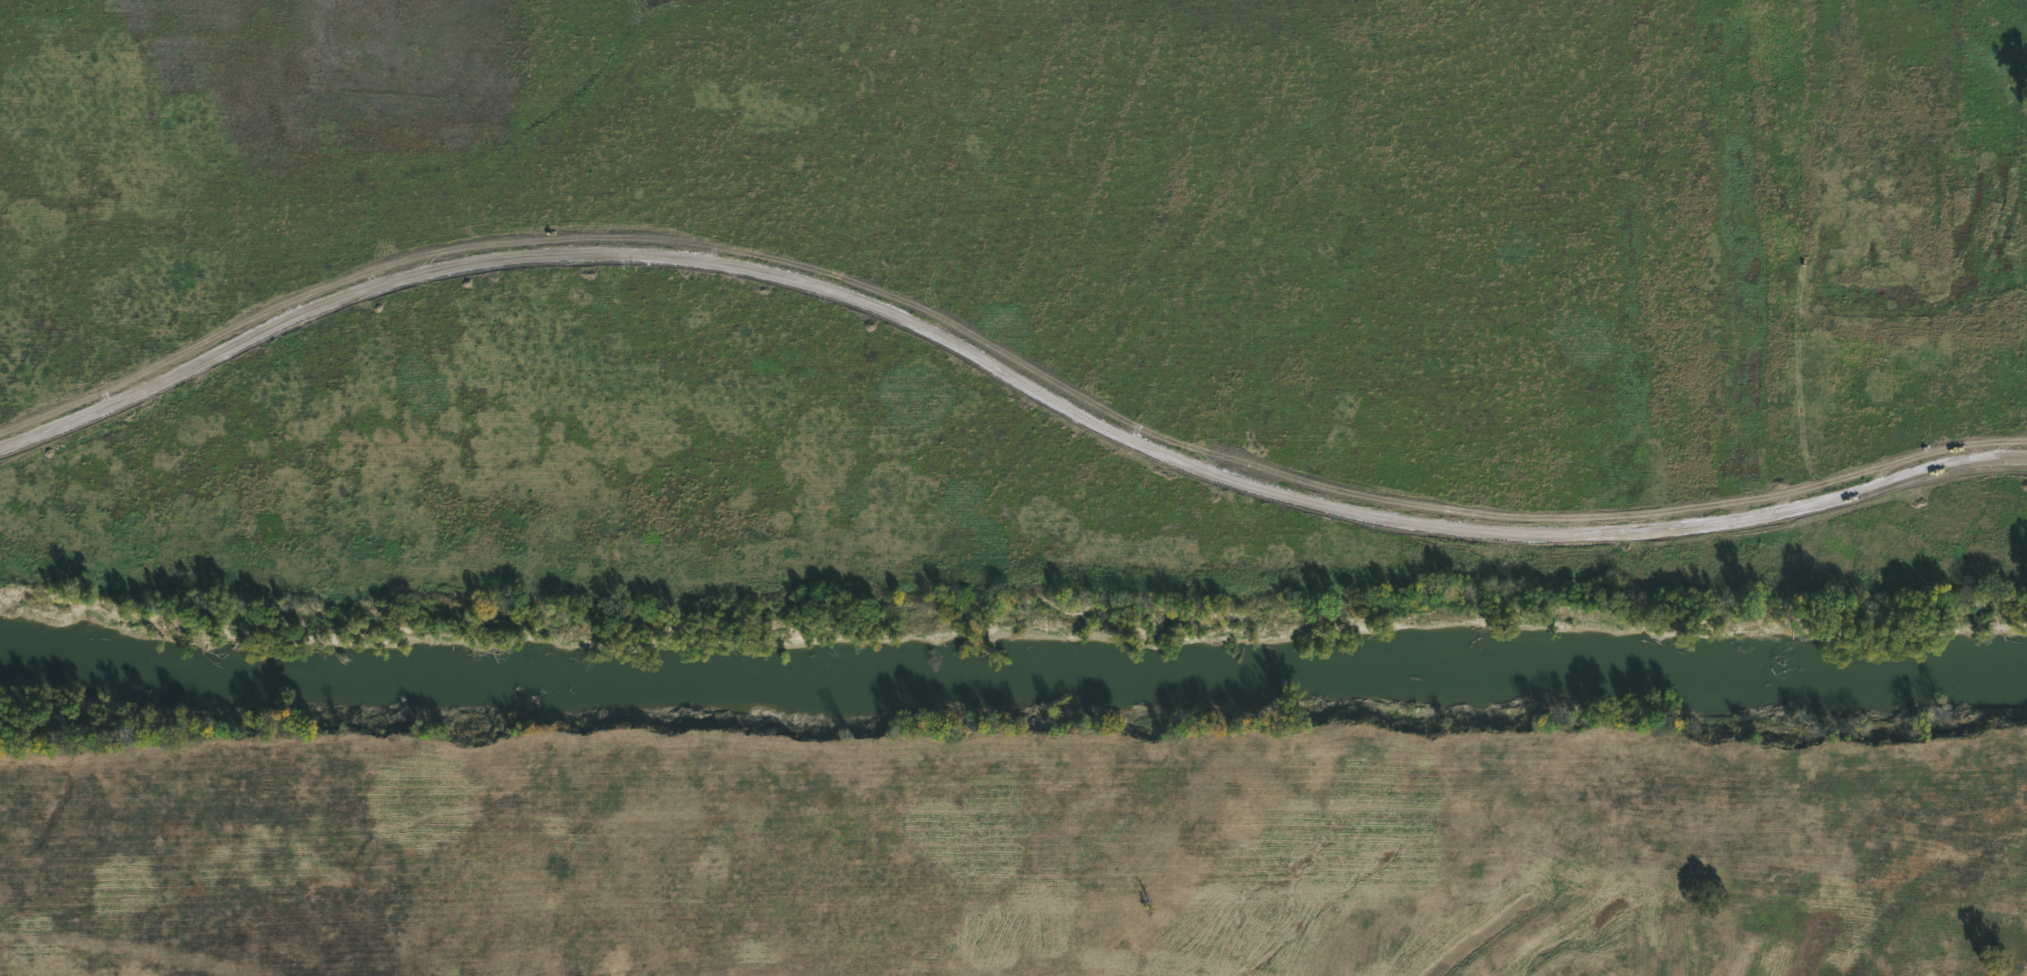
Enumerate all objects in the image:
park: (1013, 488)
river: (1013, 661)

